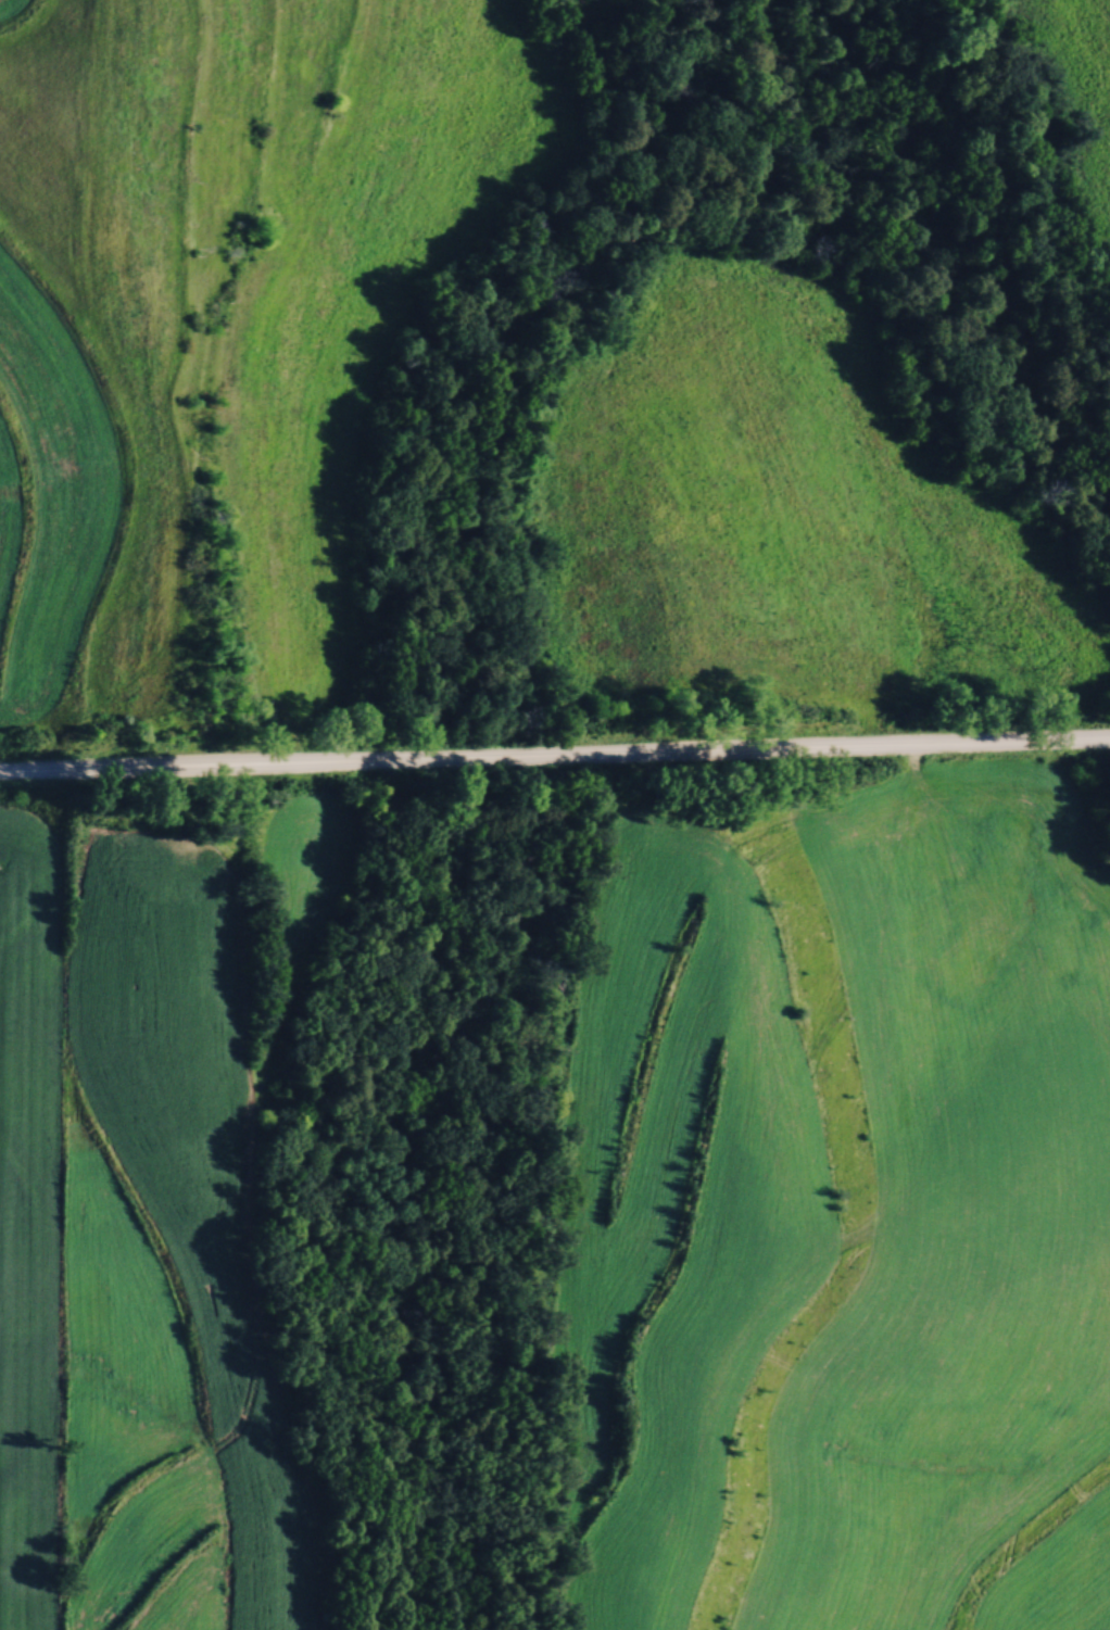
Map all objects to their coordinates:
road: (555, 751)

